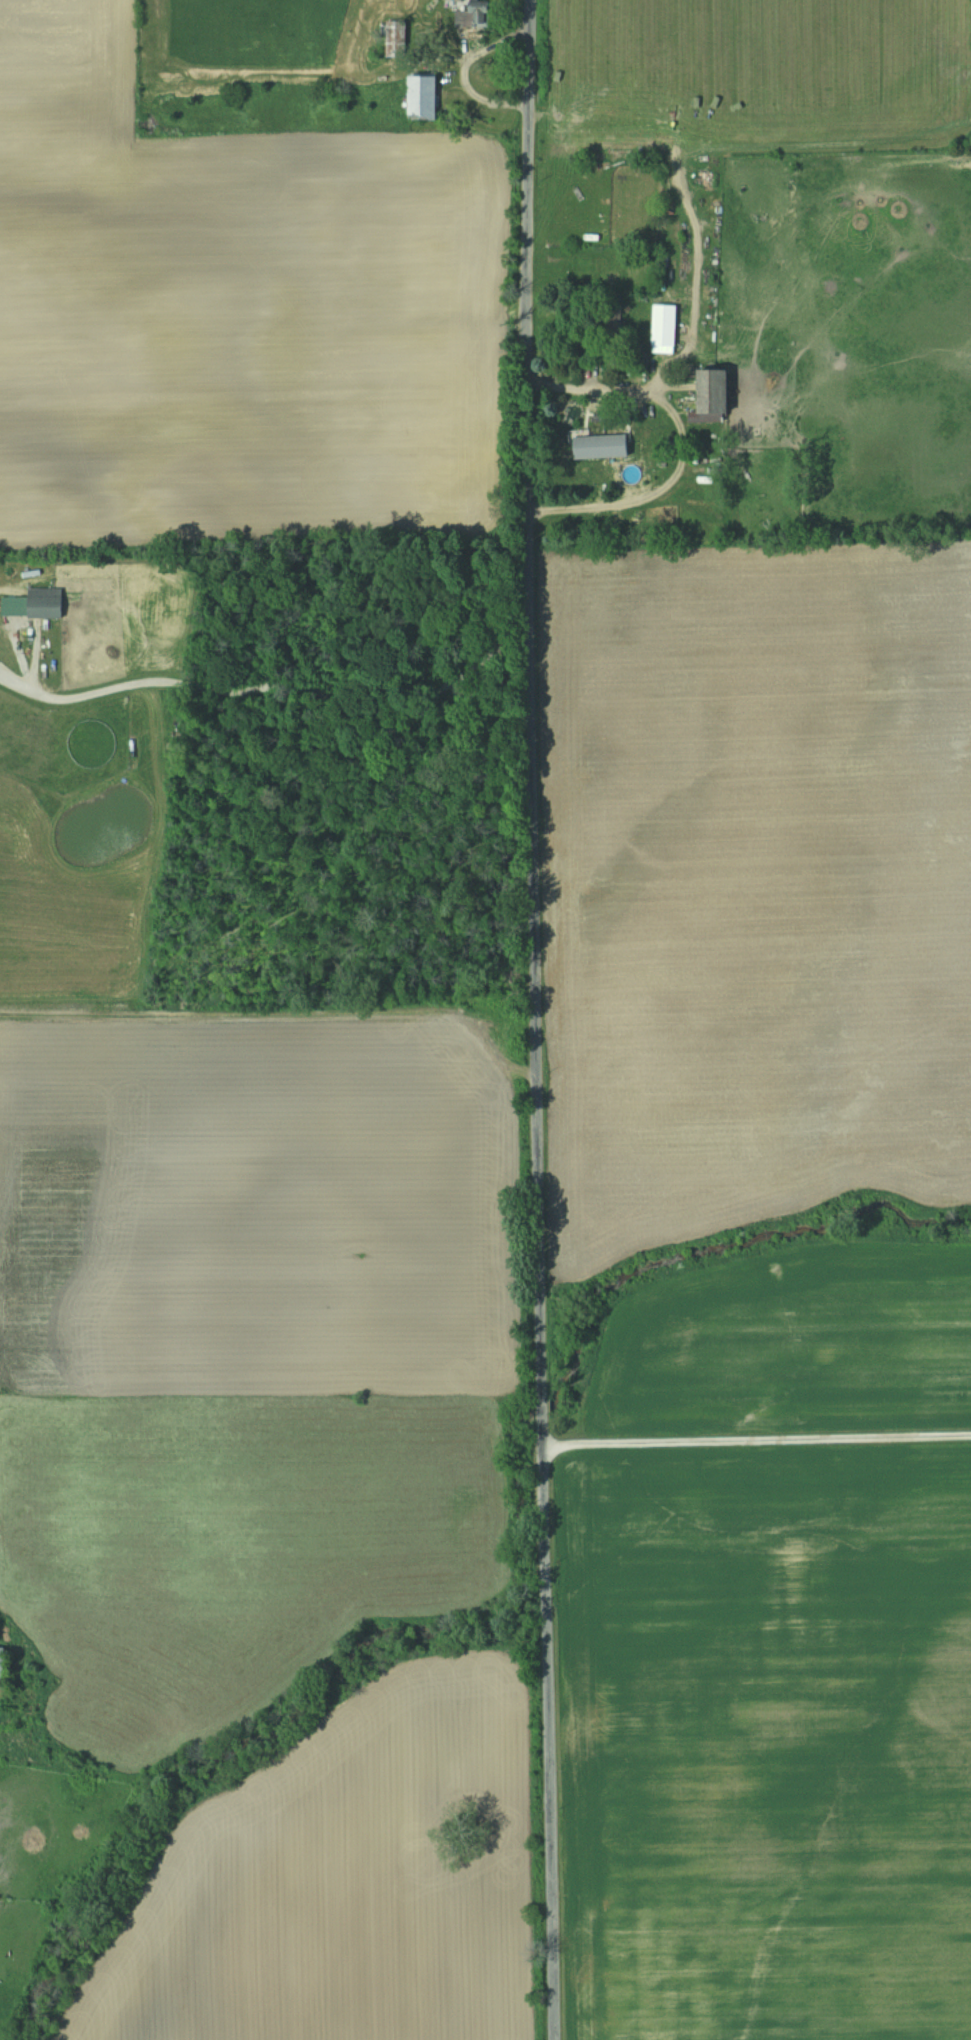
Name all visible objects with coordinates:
building: (472, 17)
building: (396, 39)
building: (425, 97)
building: (717, 395)
building: (574, 426)
road: (682, 453)
building: (46, 603)
road: (270, 692)
road: (535, 1020)
building: (3, 1667)

